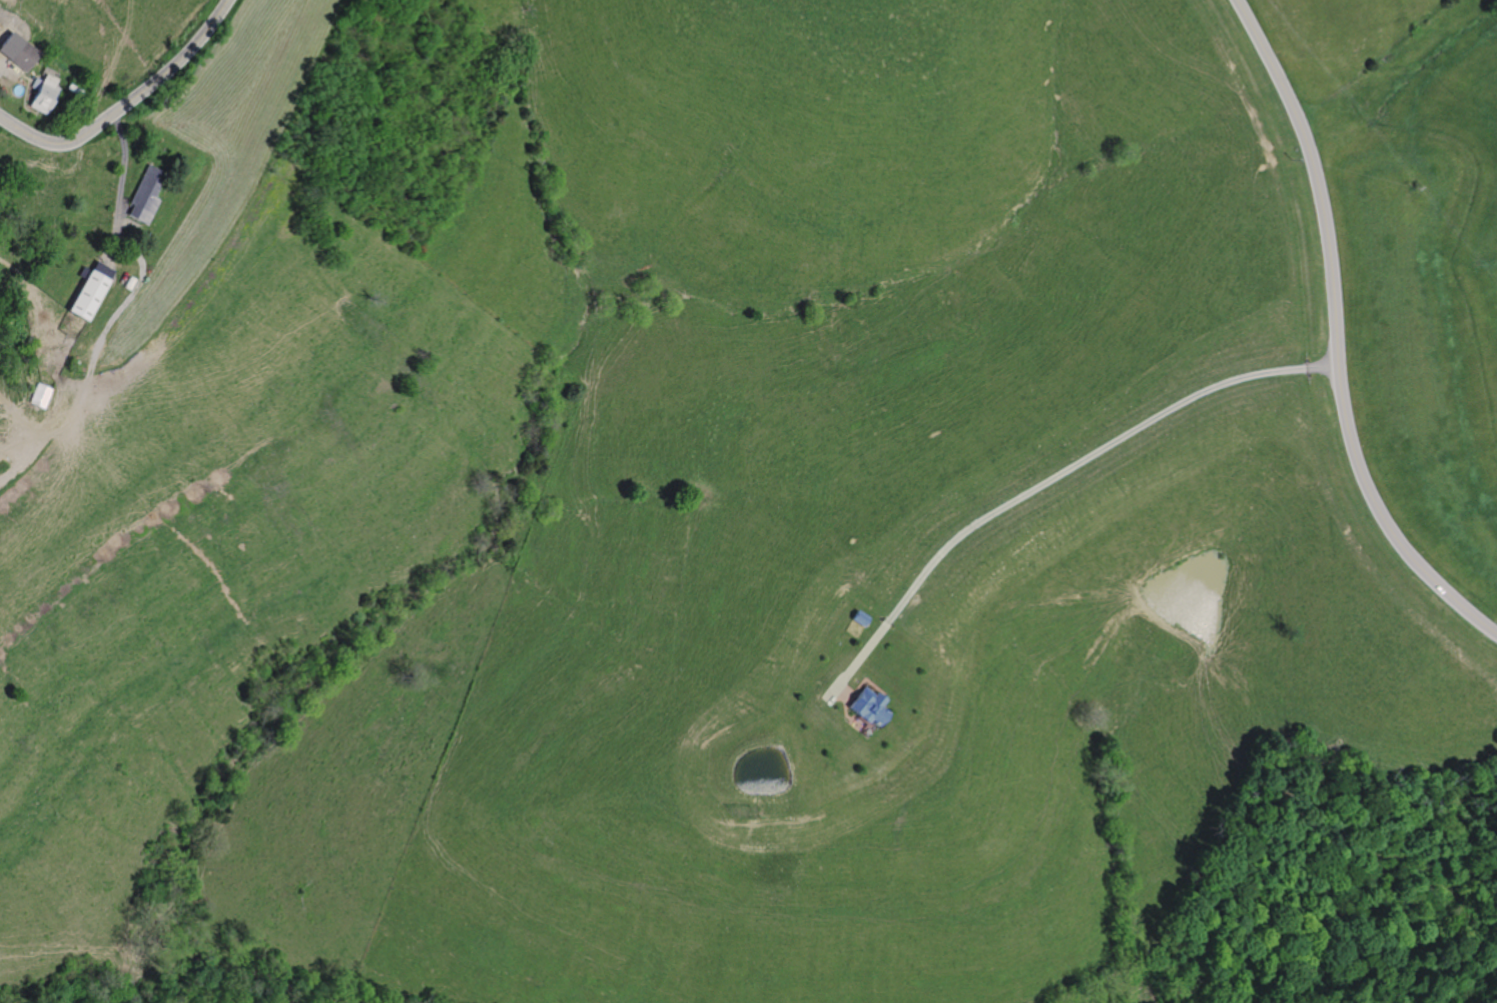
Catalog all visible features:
road: (4, 43)
building: (19, 56)
road: (8, 70)
road: (22, 78)
building: (39, 93)
road: (21, 95)
road: (125, 102)
road: (119, 188)
building: (143, 195)
building: (127, 283)
building: (87, 289)
road: (1335, 335)
road: (91, 361)
building: (38, 396)
road: (13, 429)
road: (1049, 478)
building: (859, 619)
road: (866, 680)
road: (845, 693)
building: (868, 707)

